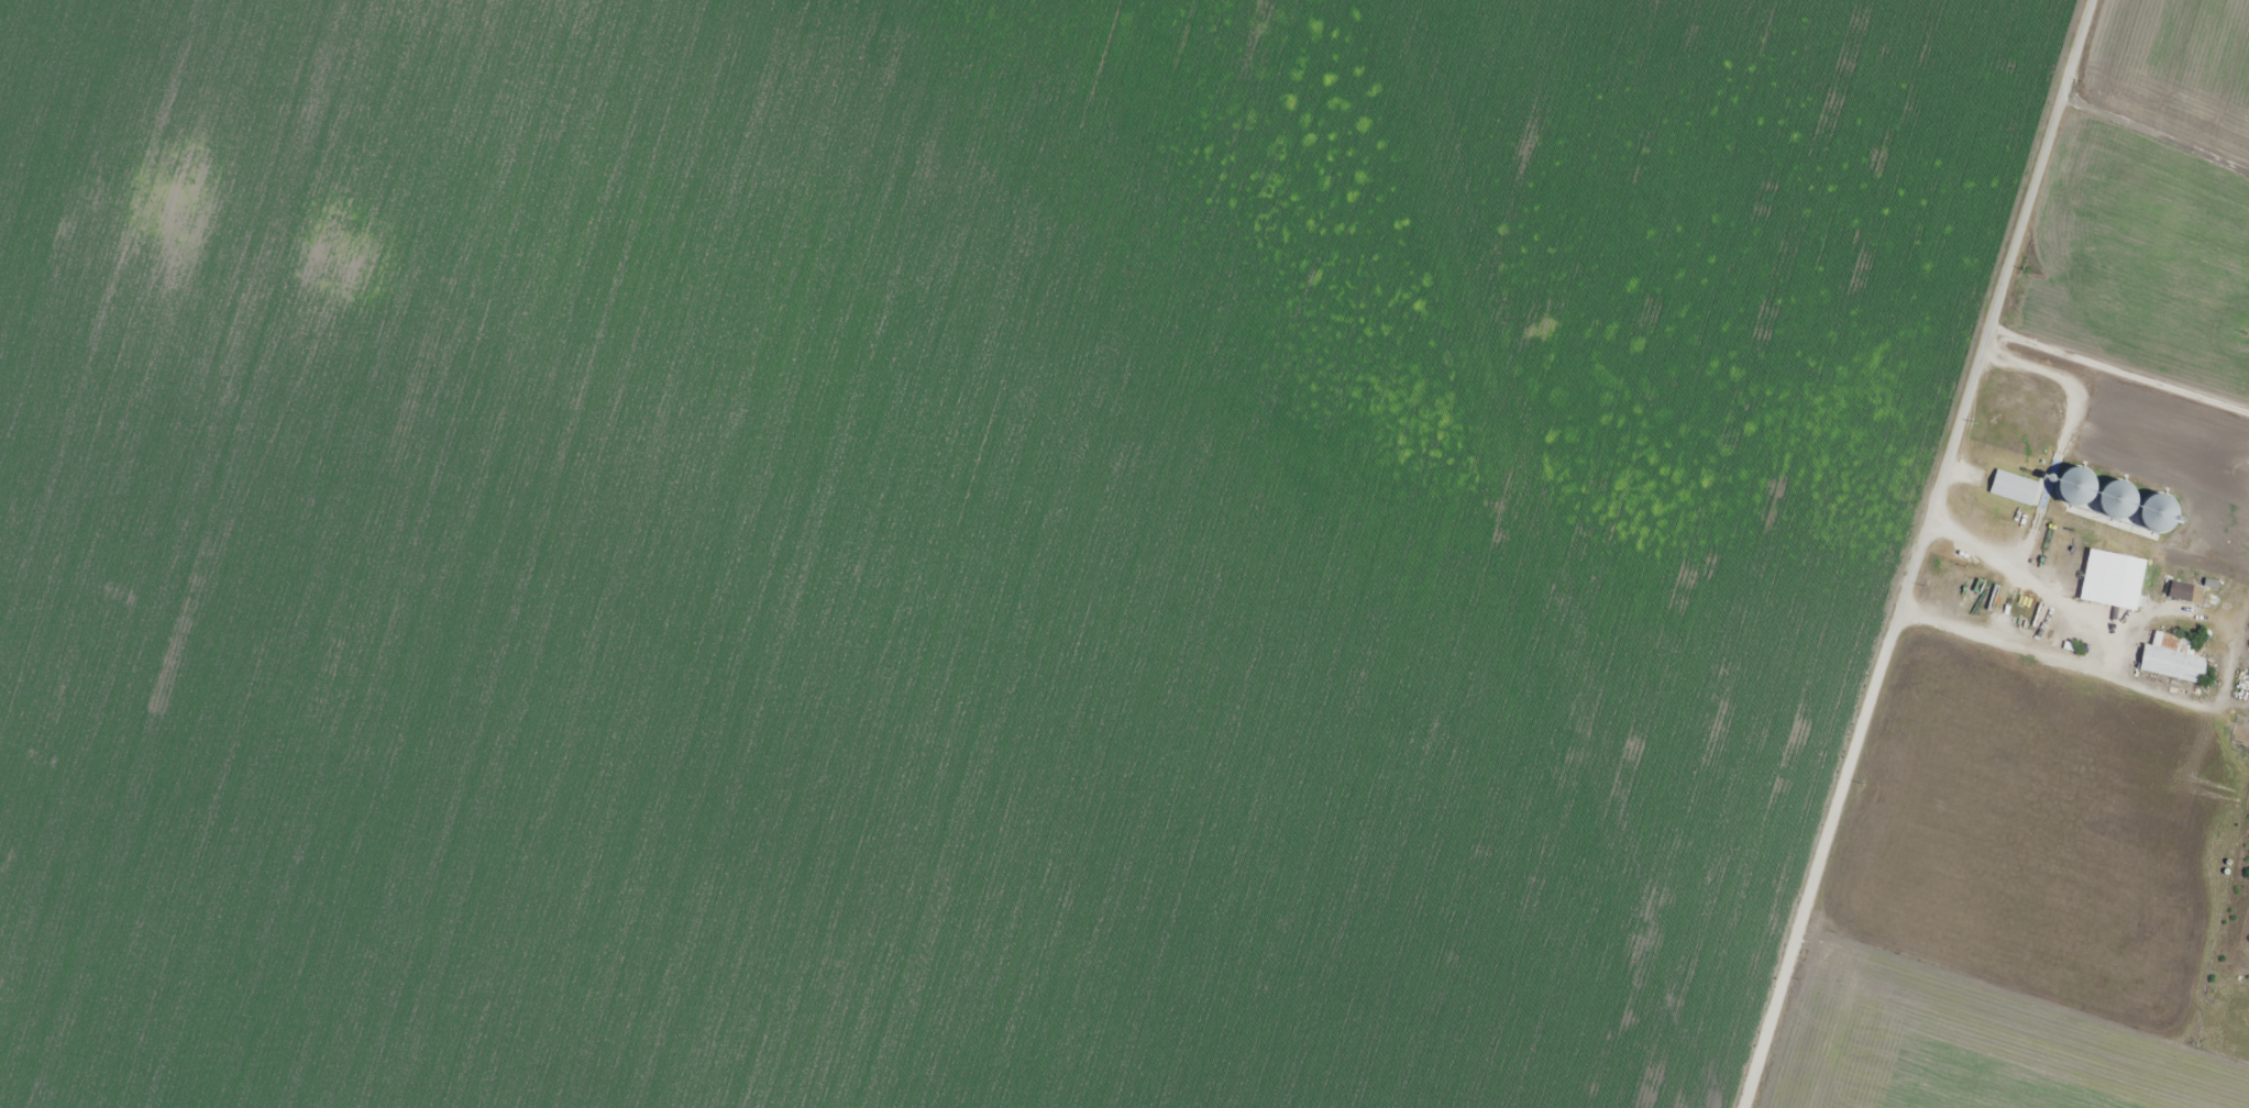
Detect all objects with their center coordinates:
road: (1923, 554)
building: (2114, 578)
building: (2175, 654)
road: (2076, 656)

